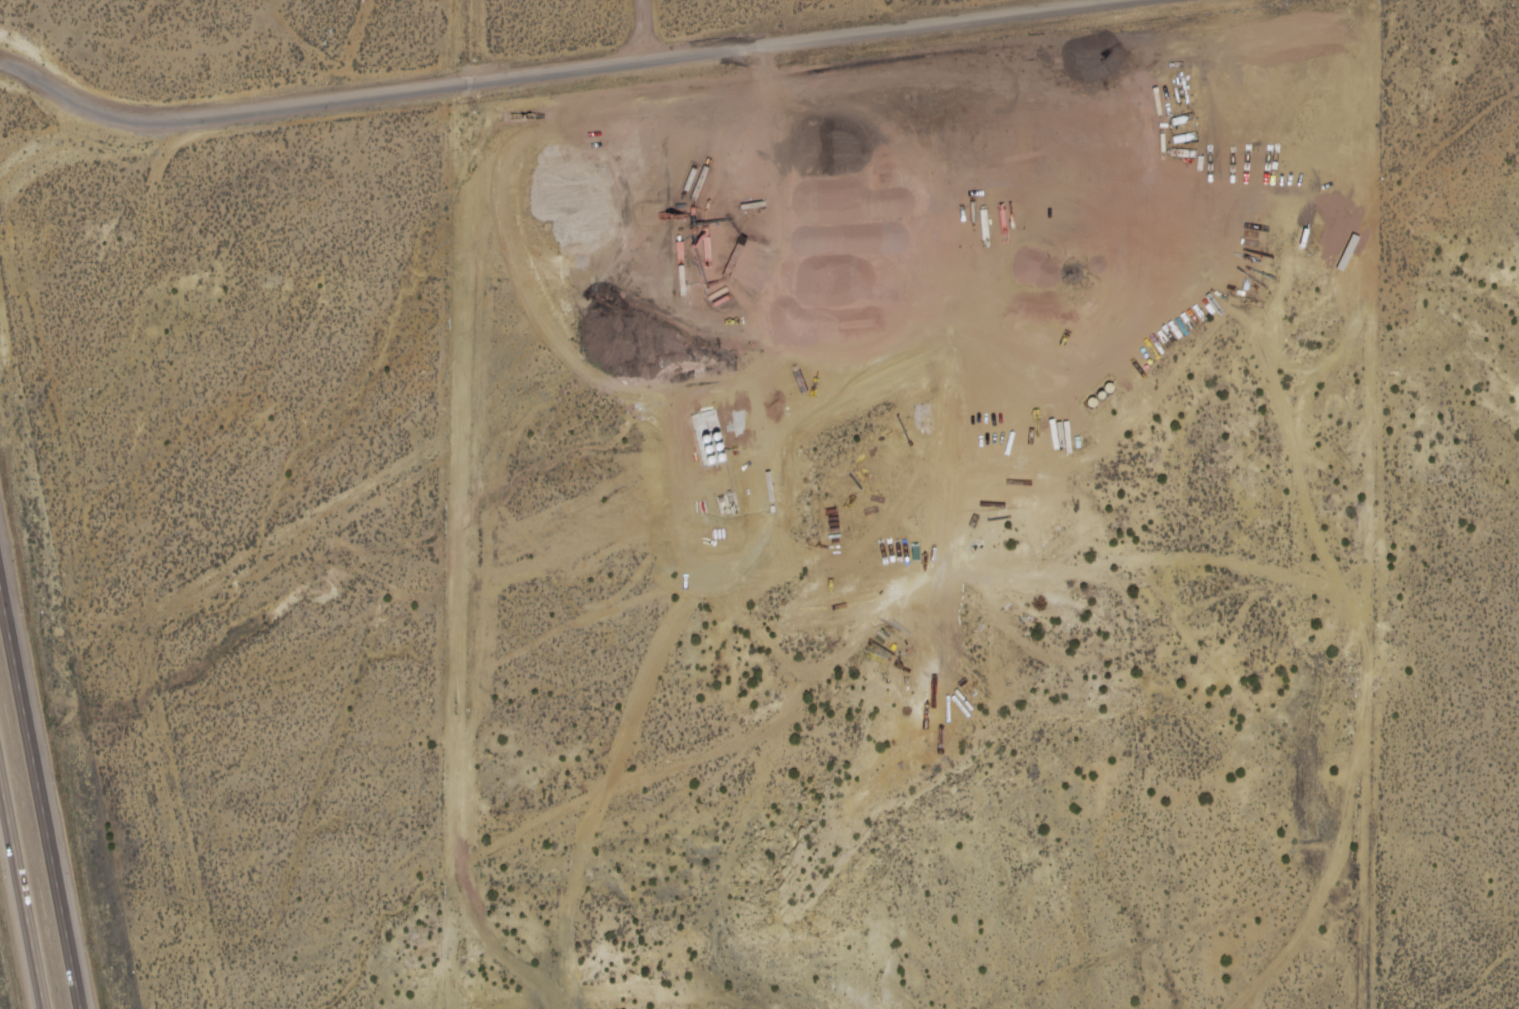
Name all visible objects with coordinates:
road: (655, 32)
road: (565, 68)
road: (464, 544)
road: (42, 779)
road: (21, 894)

